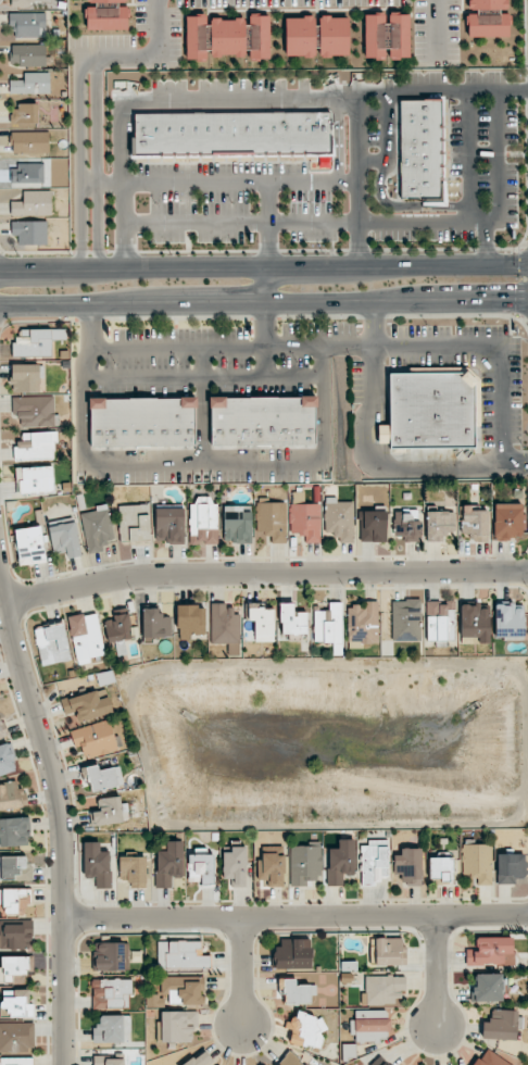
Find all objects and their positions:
building: (22, 1)
building: (106, 1)
building: (487, 4)
building: (106, 18)
building: (28, 24)
building: (487, 25)
road: (159, 27)
road: (436, 29)
building: (300, 36)
building: (334, 36)
building: (386, 36)
building: (198, 37)
building: (229, 37)
building: (259, 37)
building: (28, 54)
road: (120, 54)
building: (30, 84)
road: (442, 90)
road: (239, 101)
building: (25, 114)
road: (387, 125)
building: (231, 134)
building: (29, 142)
building: (420, 150)
road: (468, 155)
road: (499, 155)
road: (373, 160)
road: (80, 161)
road: (97, 162)
building: (30, 174)
road: (359, 177)
road: (219, 184)
road: (123, 185)
building: (33, 203)
road: (404, 205)
road: (311, 223)
road: (266, 225)
building: (30, 231)
road: (486, 243)
road: (264, 267)
road: (266, 285)
road: (263, 303)
road: (374, 324)
road: (267, 325)
building: (36, 342)
road: (213, 347)
road: (500, 350)
building: (26, 377)
building: (431, 409)
building: (34, 411)
building: (263, 421)
building: (142, 422)
building: (382, 434)
building: (36, 446)
building: (35, 479)
building: (339, 518)
building: (305, 521)
building: (203, 522)
building: (134, 523)
building: (169, 524)
building: (475, 524)
building: (237, 525)
building: (373, 525)
building: (407, 525)
building: (439, 525)
building: (97, 528)
building: (64, 537)
building: (29, 546)
road: (265, 577)
building: (291, 619)
building: (405, 619)
building: (190, 621)
building: (508, 621)
building: (262, 622)
building: (439, 622)
building: (155, 624)
building: (224, 624)
building: (362, 624)
building: (474, 624)
building: (328, 626)
building: (117, 628)
building: (86, 637)
building: (52, 644)
building: (86, 706)
building: (2, 730)
building: (95, 738)
building: (7, 757)
building: (104, 777)
building: (12, 797)
building: (110, 811)
road: (61, 812)
building: (14, 831)
building: (340, 862)
building: (477, 862)
building: (97, 864)
building: (168, 864)
building: (305, 864)
building: (373, 864)
building: (235, 865)
building: (201, 866)
building: (407, 866)
building: (510, 867)
building: (14, 868)
building: (441, 868)
building: (272, 869)
building: (133, 870)
building: (15, 901)
road: (296, 917)
building: (15, 935)
building: (389, 951)
building: (488, 951)
building: (292, 954)
building: (181, 955)
building: (111, 956)
road: (435, 969)
road: (241, 972)
building: (488, 988)
building: (183, 989)
building: (382, 989)
building: (111, 992)
building: (296, 992)
building: (15, 1004)
building: (369, 1025)
building: (500, 1025)
building: (177, 1026)
building: (112, 1029)
building: (306, 1029)
building: (16, 1037)
building: (490, 1058)
building: (200, 1060)
building: (290, 1060)
building: (108, 1061)
building: (15, 1062)
building: (385, 1063)

